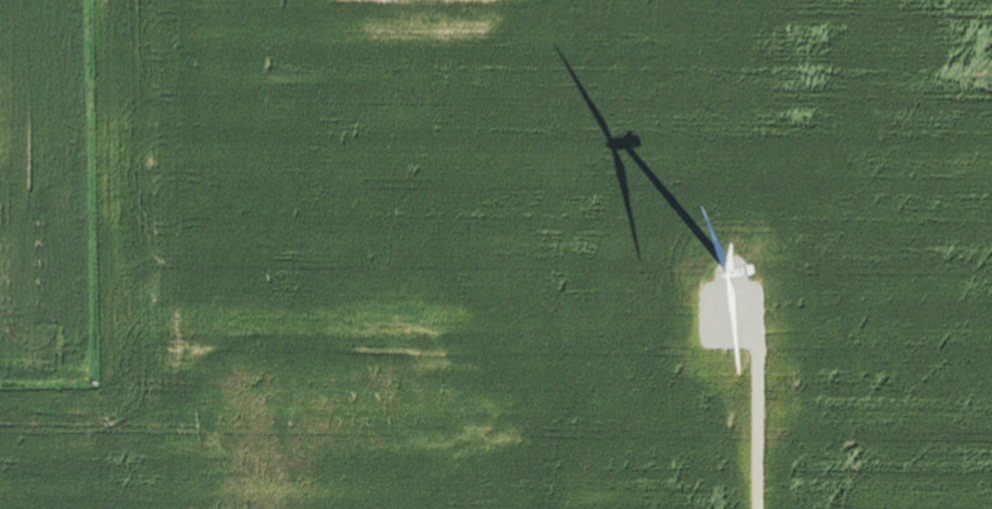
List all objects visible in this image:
wind turbine: (724, 277)
building: (675, 304)
road: (756, 397)

